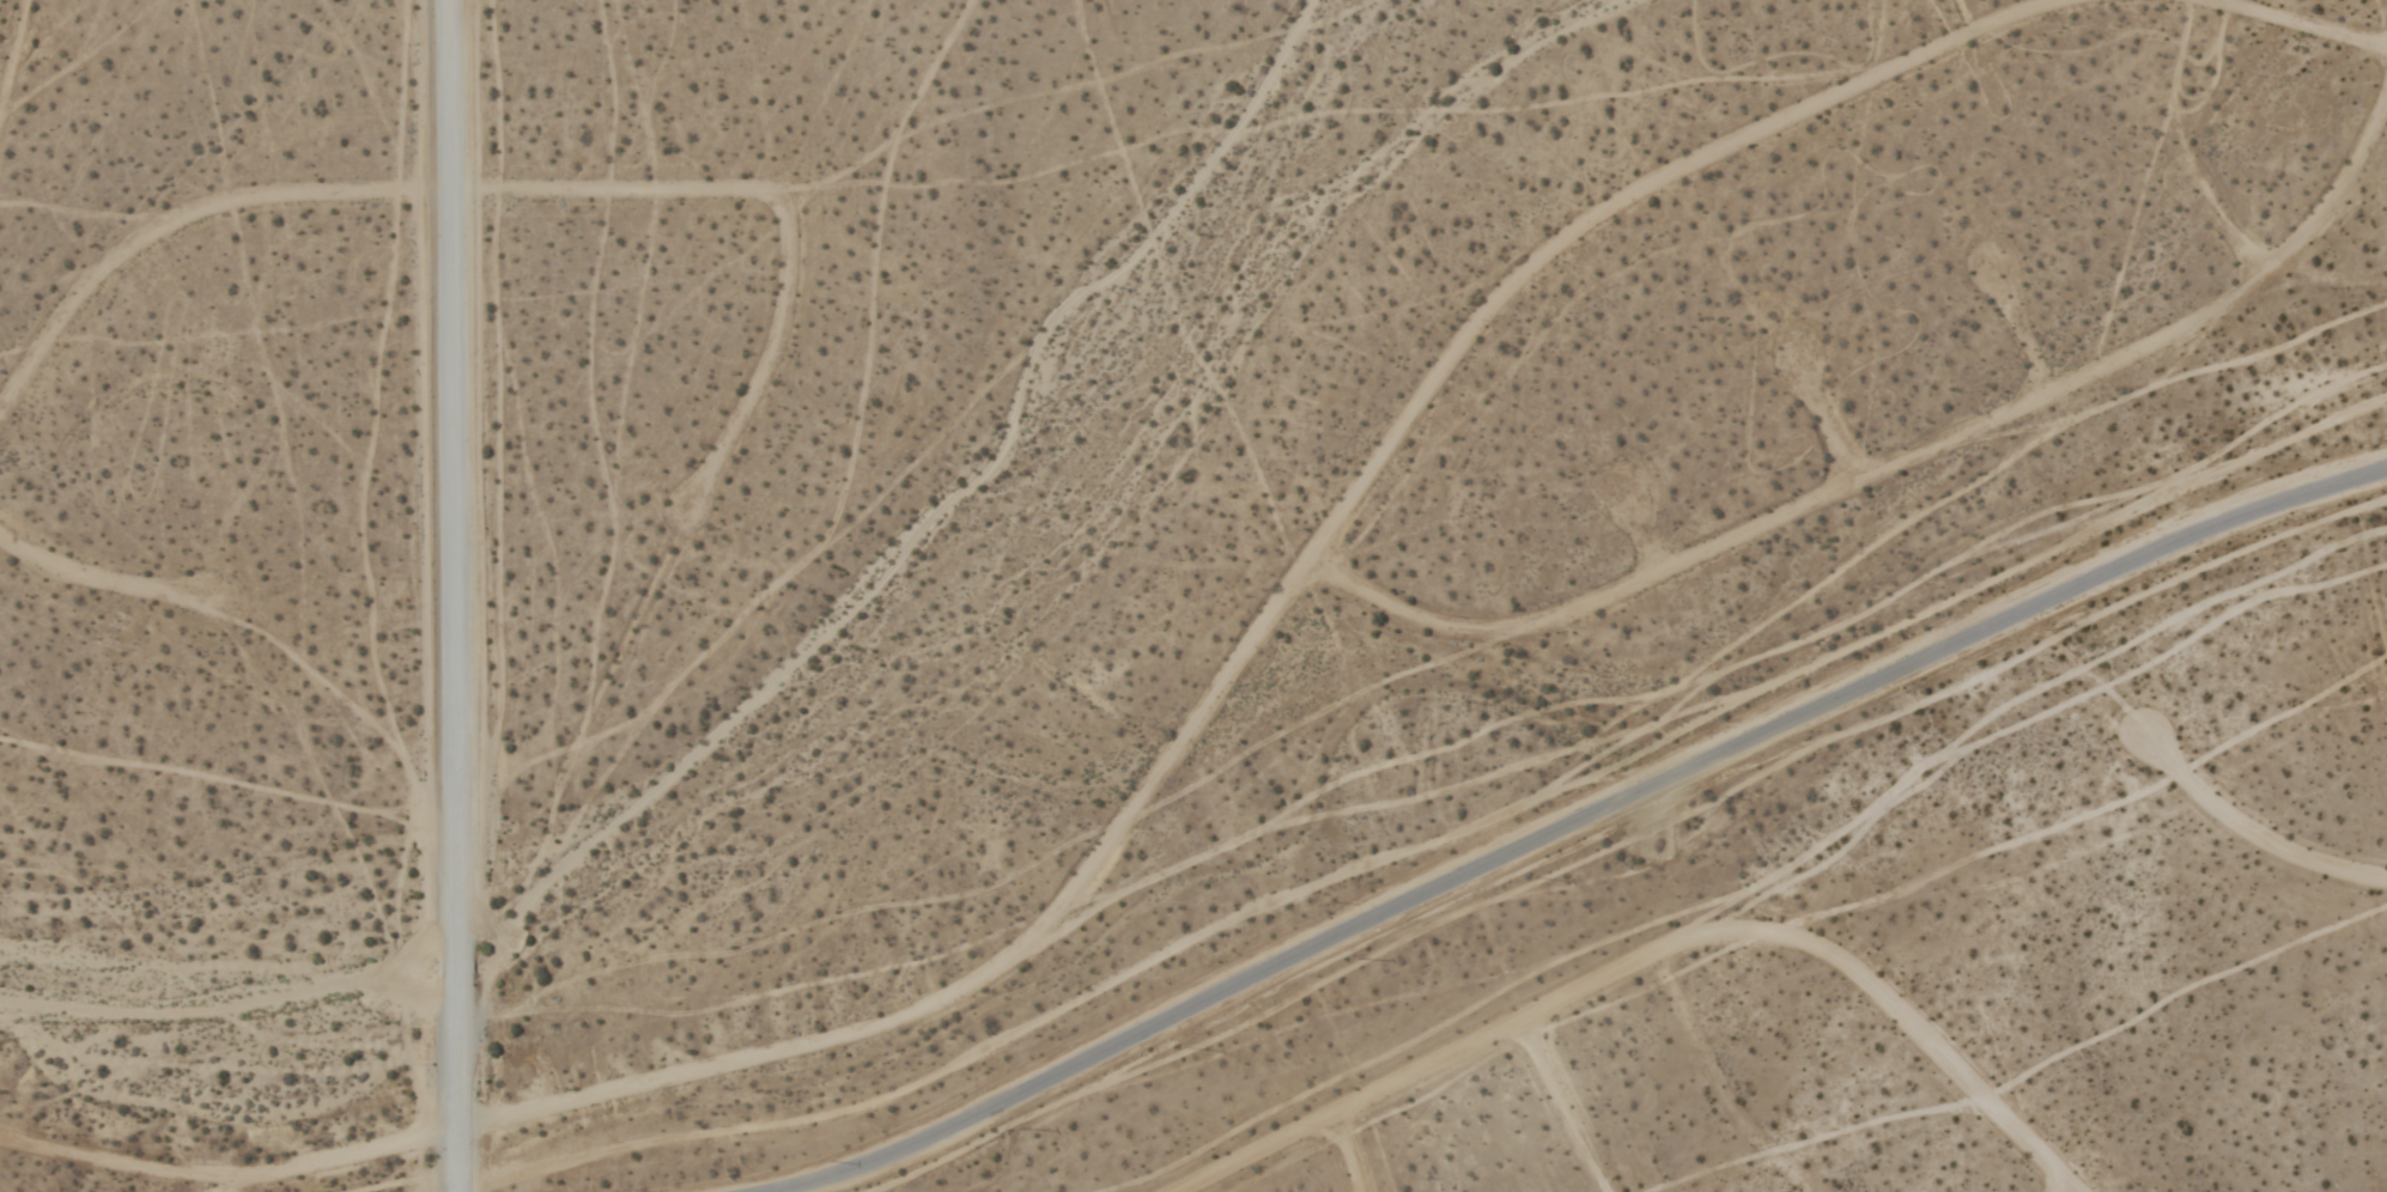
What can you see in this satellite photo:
road: (2194, 2)
road: (2270, 26)
road: (345, 201)
road: (2225, 236)
road: (2018, 339)
road: (772, 371)
road: (1822, 427)
road: (1895, 470)
road: (1639, 539)
road: (103, 588)
road: (455, 596)
crop: (1193, 596)
road: (1148, 797)
road: (1575, 821)
road: (2247, 841)
road: (1648, 962)
road: (1557, 1111)
road: (1342, 1156)

